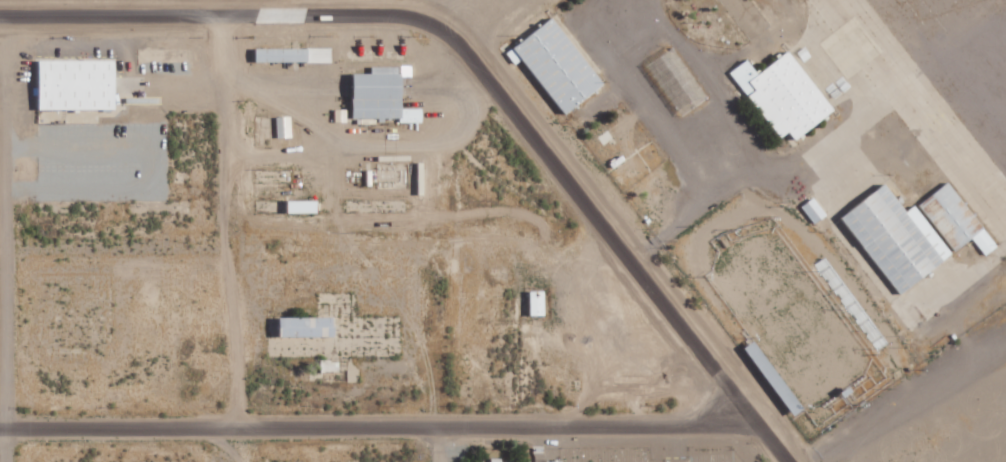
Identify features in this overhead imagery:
building: (295, 54)
building: (550, 65)
road: (471, 68)
building: (669, 81)
building: (80, 84)
building: (777, 95)
building: (384, 98)
airport taxiway: (917, 113)
building: (342, 115)
building: (285, 127)
road: (218, 135)
building: (809, 210)
building: (950, 219)
building: (890, 238)
road: (4, 246)
road: (305, 252)
building: (311, 327)
road: (679, 396)
road: (340, 431)
road: (441, 446)
building: (491, 459)

